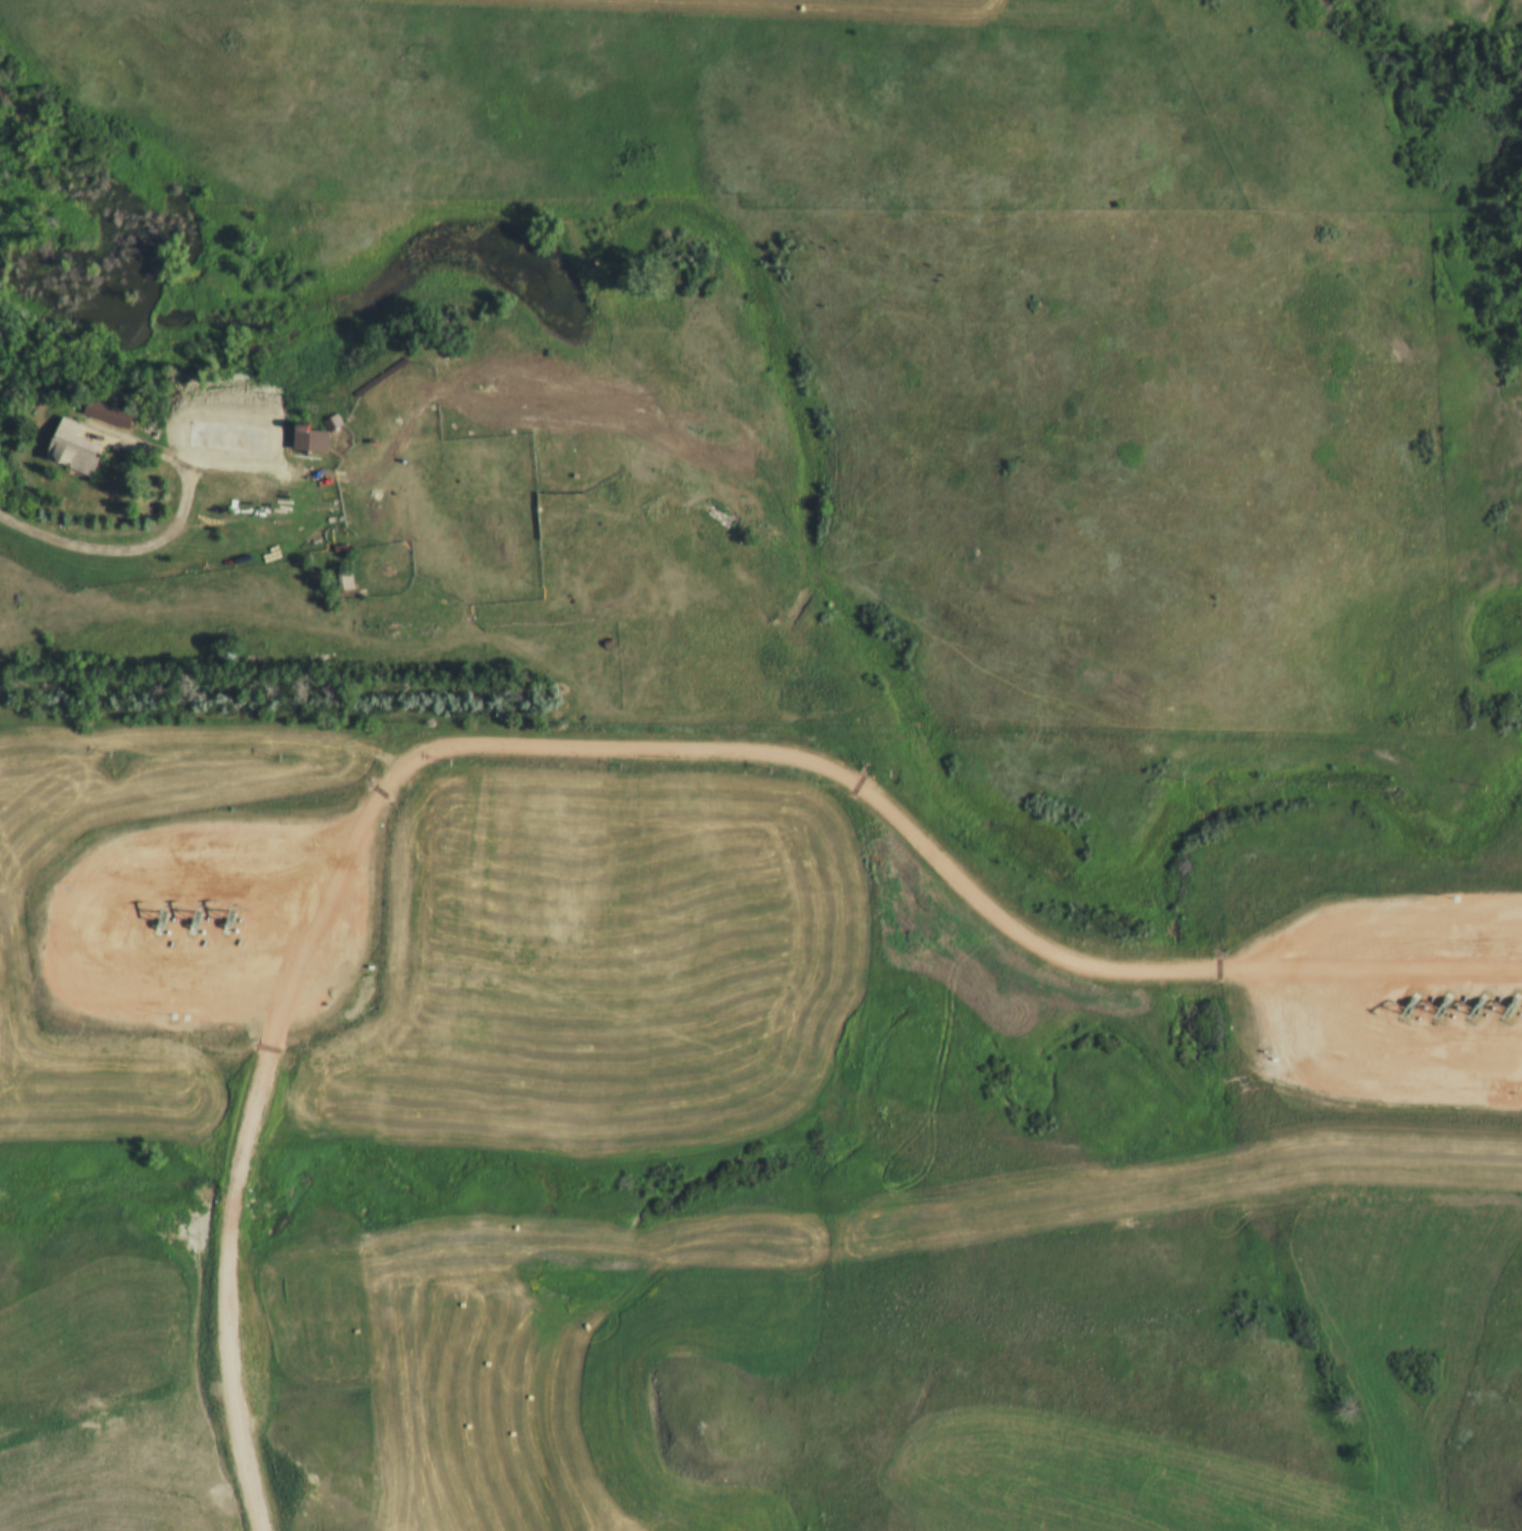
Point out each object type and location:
building: (313, 436)
building: (73, 448)
road: (125, 551)

